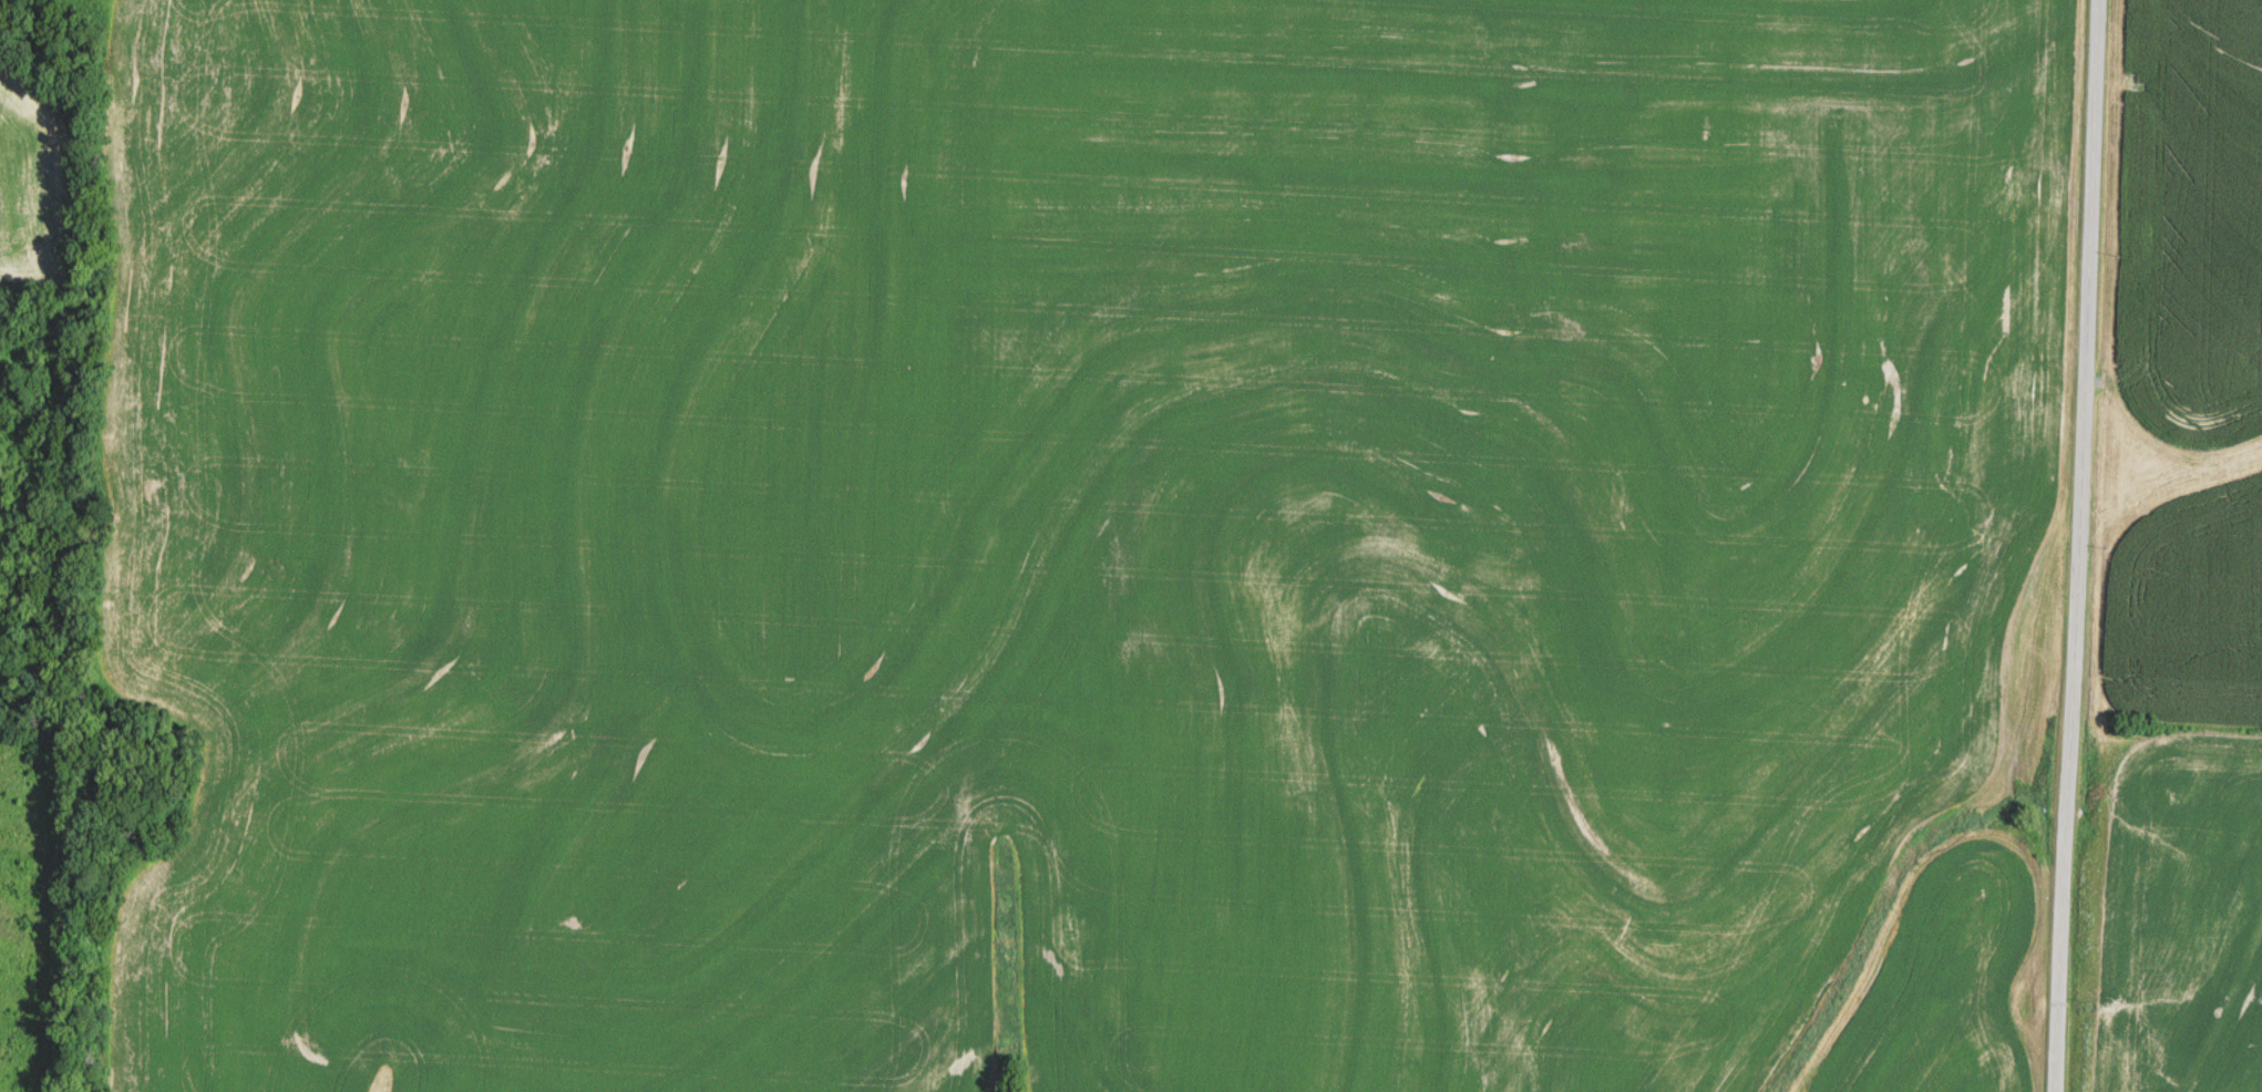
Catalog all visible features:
road: (2077, 546)

